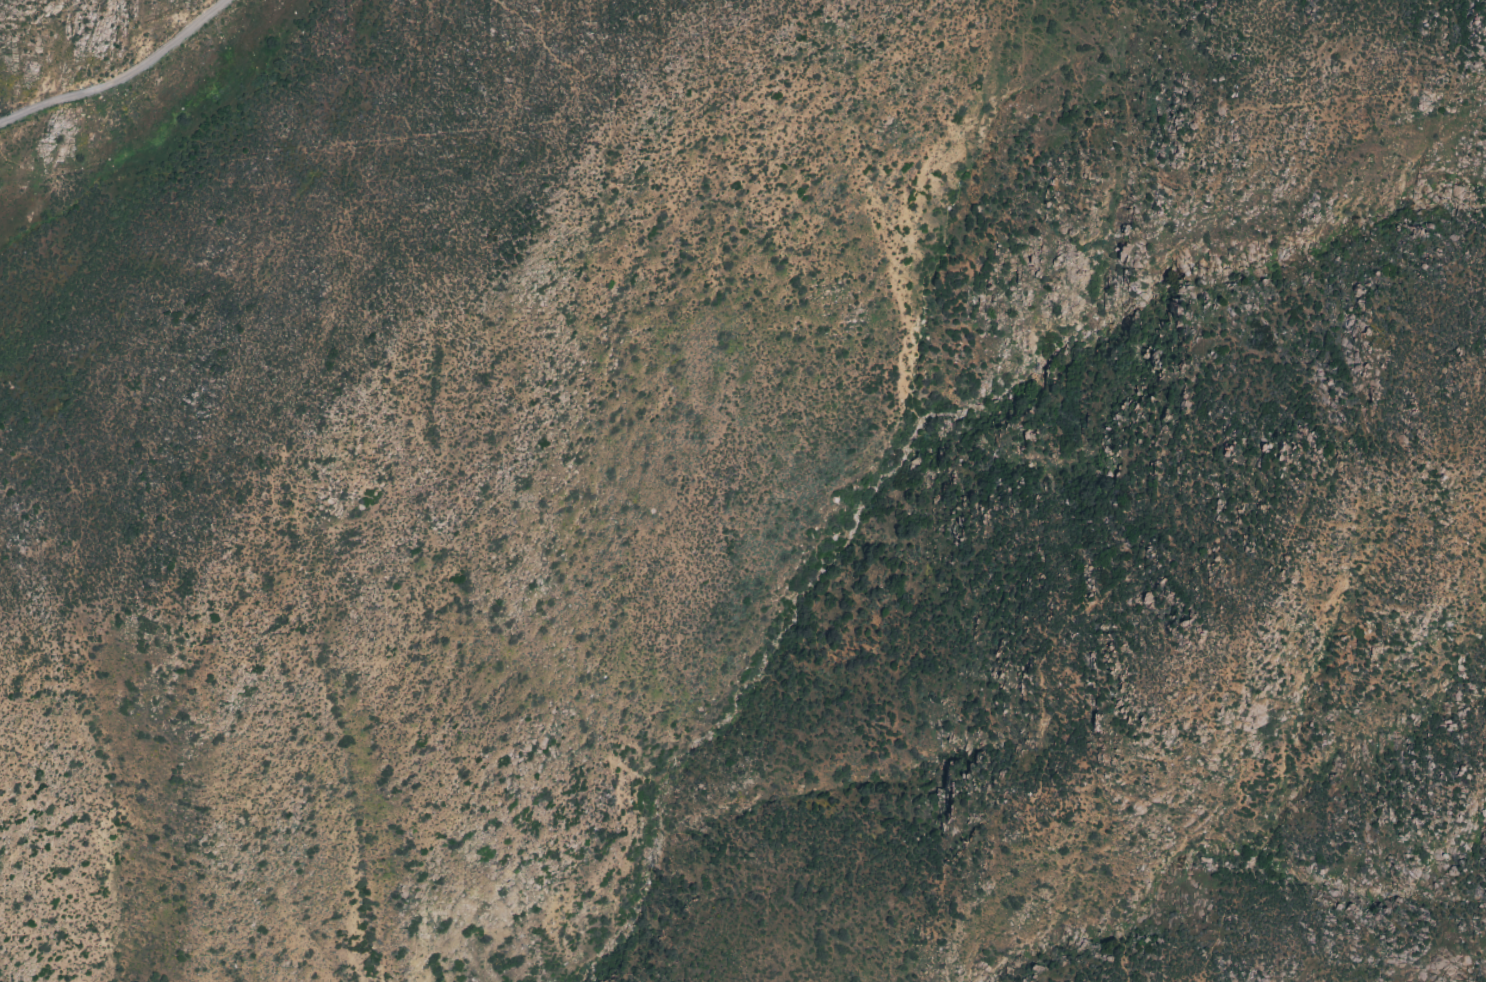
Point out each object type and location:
road: (118, 75)

